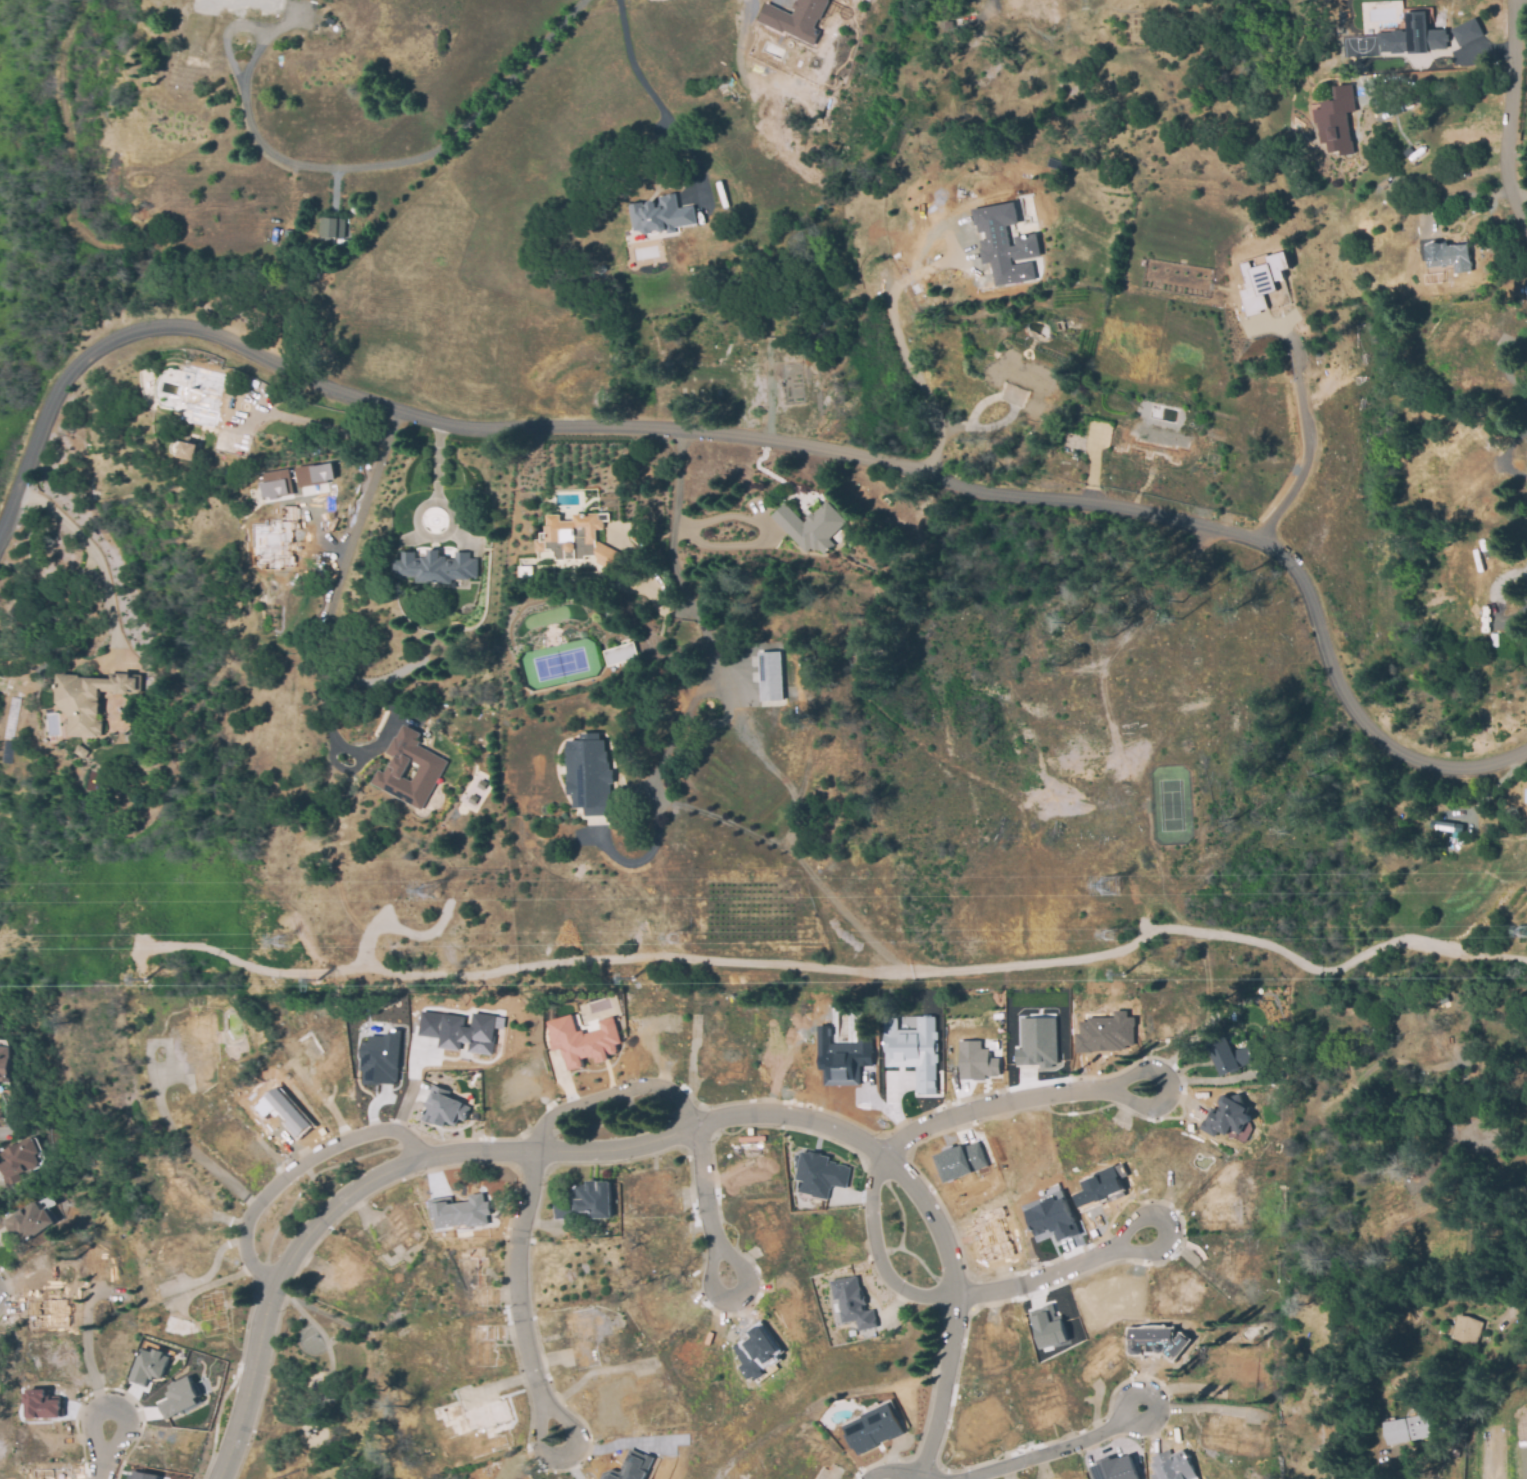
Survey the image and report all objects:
road: (1520, 7)
road: (983, 12)
building: (793, 19)
road: (250, 25)
road: (745, 25)
building: (1464, 31)
building: (1410, 37)
road: (651, 94)
road: (1447, 94)
road: (1508, 117)
building: (1333, 120)
road: (419, 158)
road: (1459, 197)
building: (658, 218)
building: (331, 219)
building: (1002, 246)
building: (1449, 256)
building: (1257, 283)
road: (893, 330)
building: (202, 399)
road: (993, 426)
road: (1310, 428)
road: (761, 443)
building: (188, 450)
building: (316, 472)
building: (278, 482)
building: (811, 521)
road: (672, 523)
road: (768, 529)
building: (550, 532)
building: (270, 545)
road: (91, 549)
building: (429, 557)
building: (527, 572)
road: (332, 586)
building: (620, 656)
park: (559, 657)
building: (771, 669)
building: (87, 696)
building: (81, 751)
building: (413, 759)
building: (589, 760)
building: (1526, 794)
building: (1445, 826)
building: (473, 847)
power tower: (1107, 886)
power tower: (429, 892)
power tower: (1525, 933)
power tower: (1111, 937)
power tower: (676, 940)
power tower: (281, 943)
road: (838, 968)
power tower: (334, 981)
power tower: (1105, 983)
building: (459, 1032)
building: (1105, 1033)
building: (583, 1041)
building: (1037, 1041)
building: (914, 1049)
building: (1235, 1051)
building: (842, 1058)
building: (380, 1059)
building: (976, 1061)
building: (6, 1062)
road: (411, 1085)
road: (612, 1092)
road: (1067, 1092)
building: (442, 1109)
building: (284, 1111)
building: (1228, 1113)
road: (1459, 1135)
road: (461, 1153)
building: (960, 1159)
building: (22, 1160)
road: (294, 1169)
building: (820, 1175)
building: (1100, 1187)
building: (585, 1200)
building: (460, 1213)
building: (1054, 1214)
building: (32, 1221)
building: (990, 1234)
road: (1109, 1251)
road: (878, 1255)
road: (713, 1260)
building: (852, 1303)
road: (1525, 1307)
road: (960, 1309)
building: (1048, 1327)
building: (1467, 1330)
building: (1155, 1340)
road: (527, 1350)
building: (756, 1350)
building: (149, 1369)
building: (179, 1396)
park: (329, 1397)
road: (1153, 1397)
building: (40, 1402)
road: (112, 1405)
building: (1406, 1429)
building: (872, 1430)
building: (1323, 1433)
road: (1045, 1455)
building: (1173, 1466)
building: (630, 1467)
road: (102, 1469)
building: (1115, 1469)
road: (893, 1471)
road: (1376, 1471)
building: (142, 1474)
road: (927, 1475)

